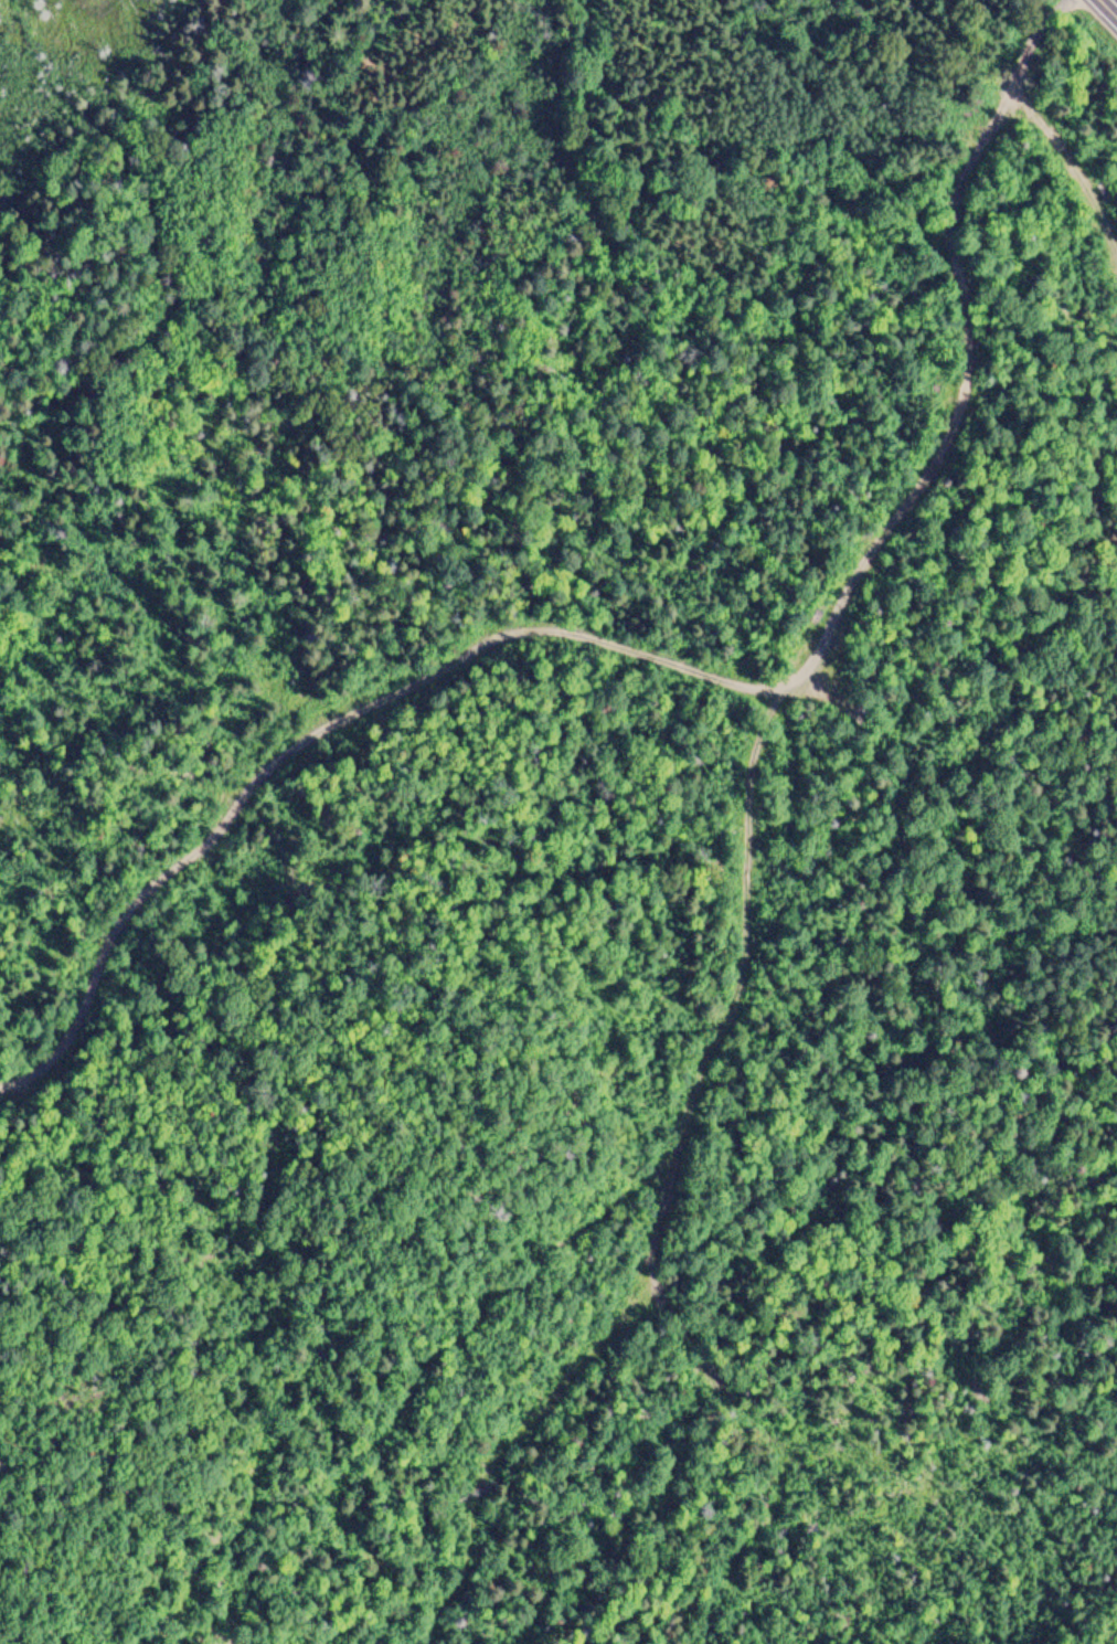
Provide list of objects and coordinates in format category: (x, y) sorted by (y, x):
road: (1109, 7)
road: (682, 654)

